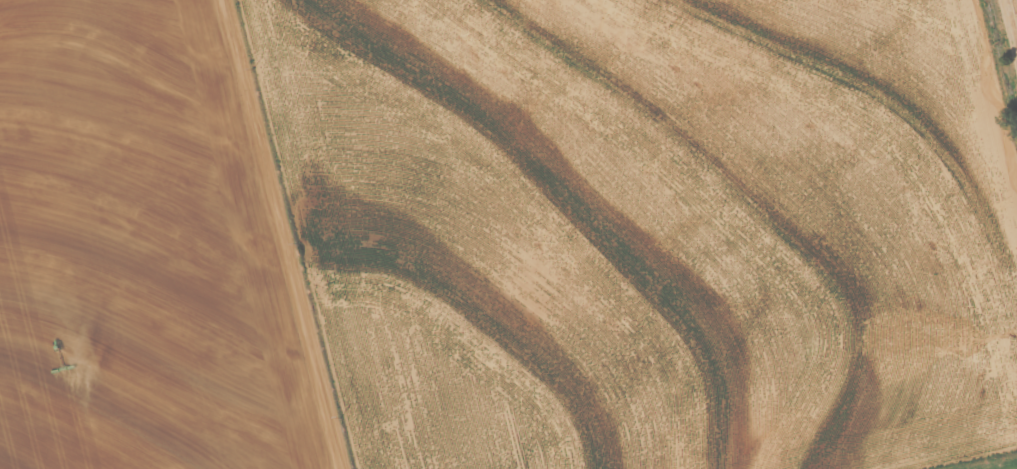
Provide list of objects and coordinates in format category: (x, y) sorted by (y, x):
park: (1005, 47)
road: (996, 64)

